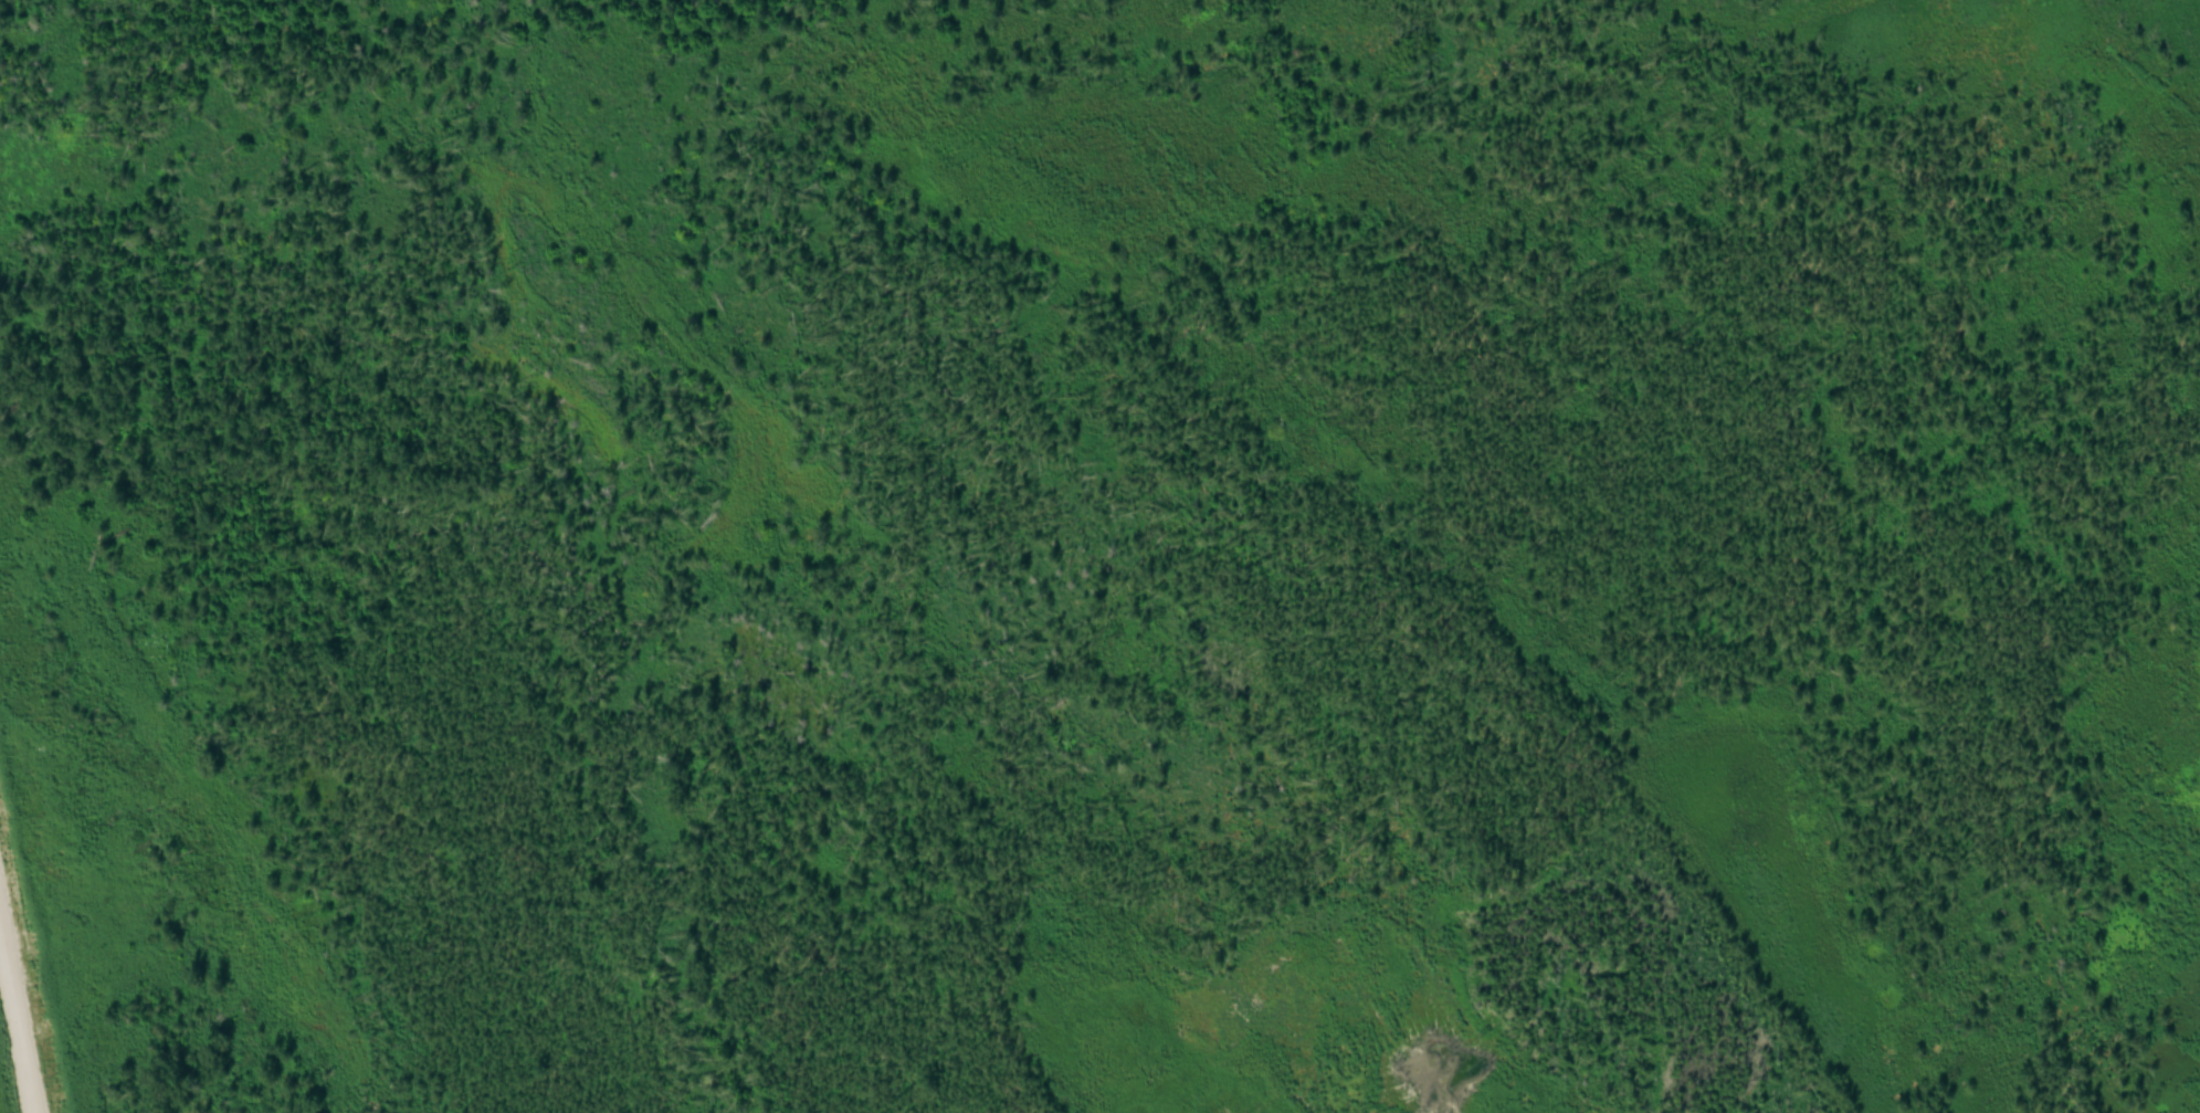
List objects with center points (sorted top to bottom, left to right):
road: (7, 1077)

